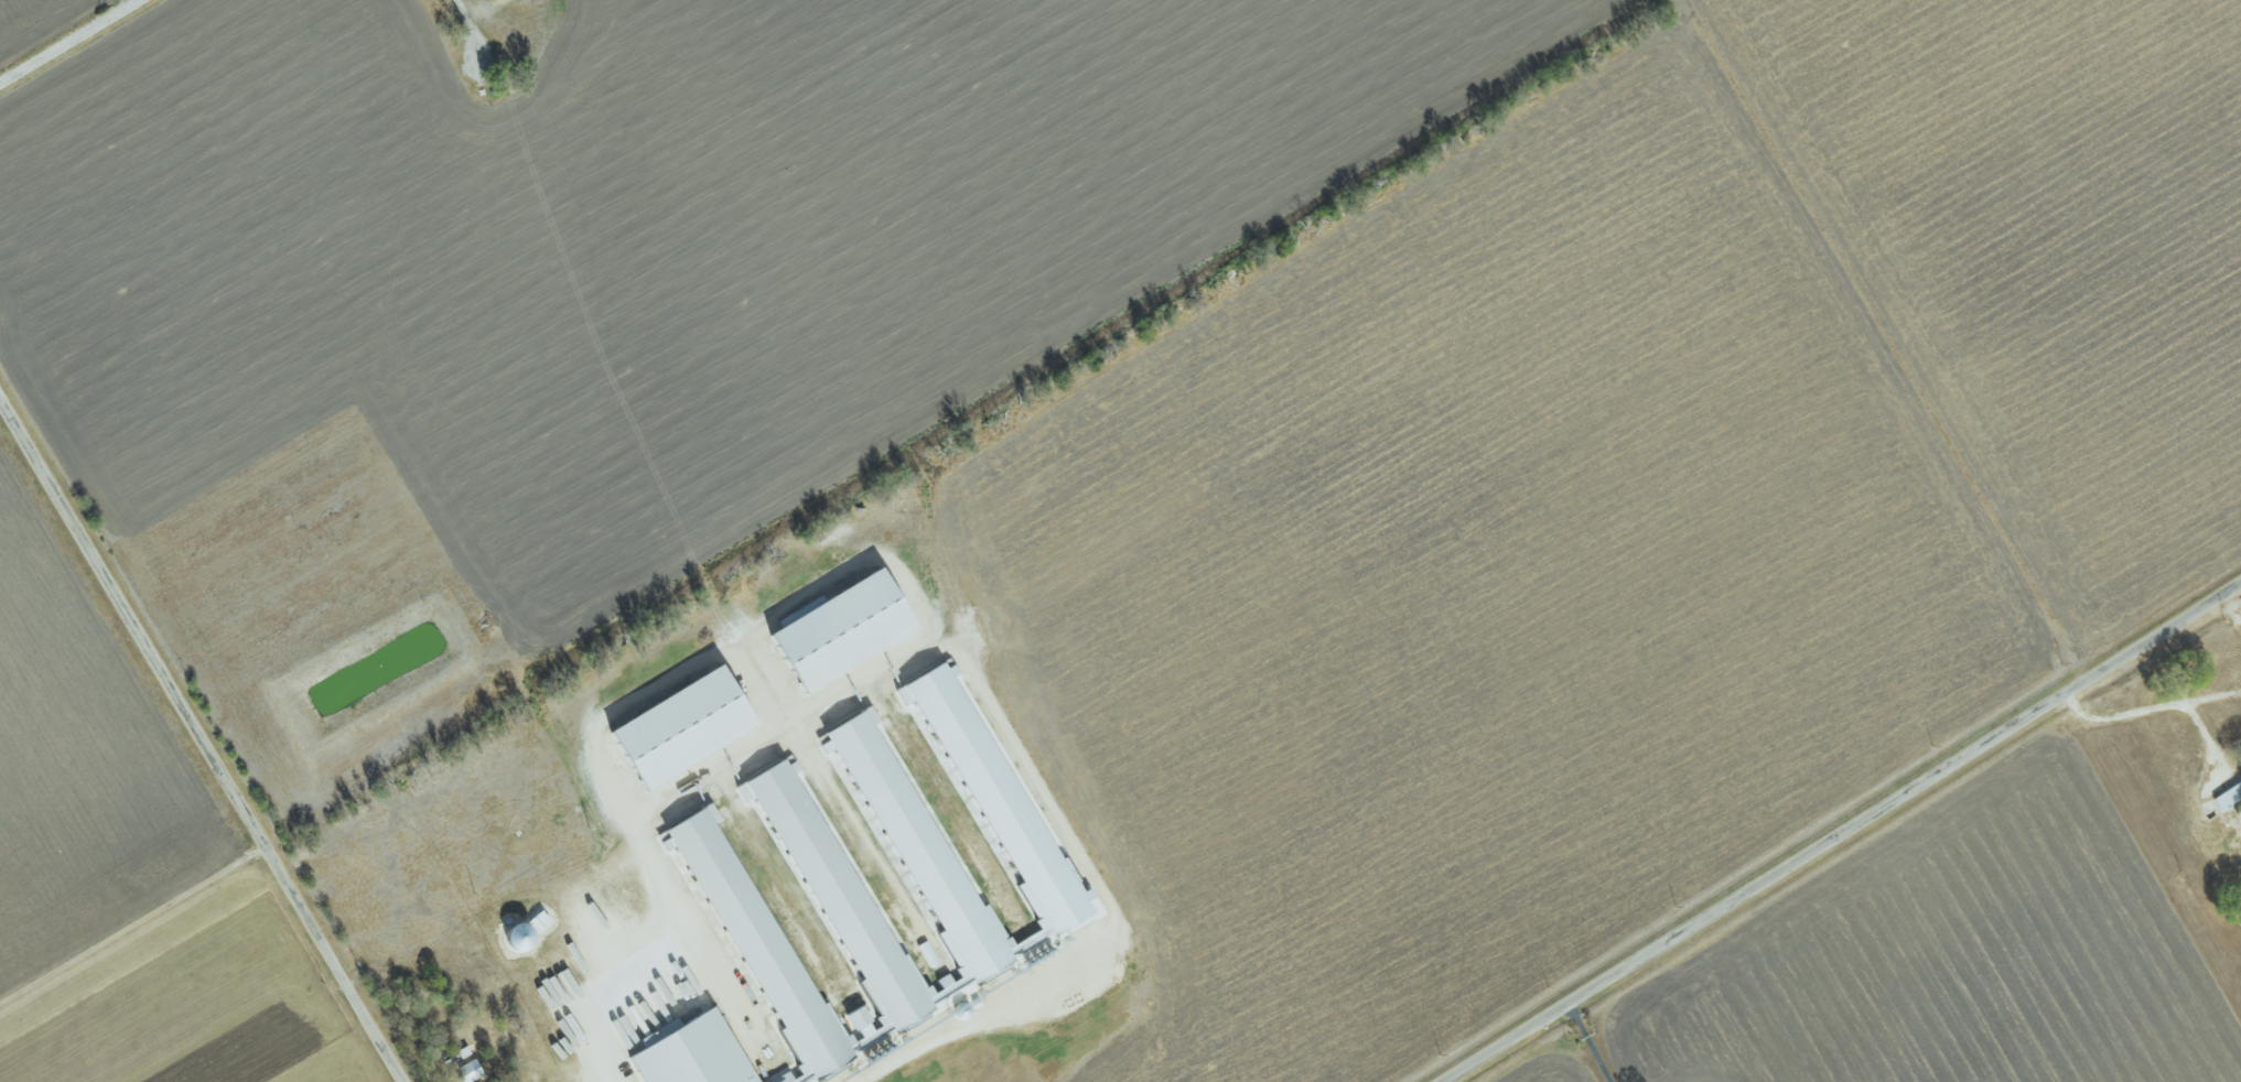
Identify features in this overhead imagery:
road: (464, 29)
road: (67, 39)
road: (807, 596)
building: (843, 627)
road: (2173, 710)
building: (683, 726)
road: (198, 740)
building: (2228, 796)
road: (1844, 833)
building: (2230, 843)
building: (837, 888)
road: (131, 922)
road: (712, 975)
road: (933, 1042)
road: (1583, 1045)
building: (693, 1052)
building: (470, 1071)

